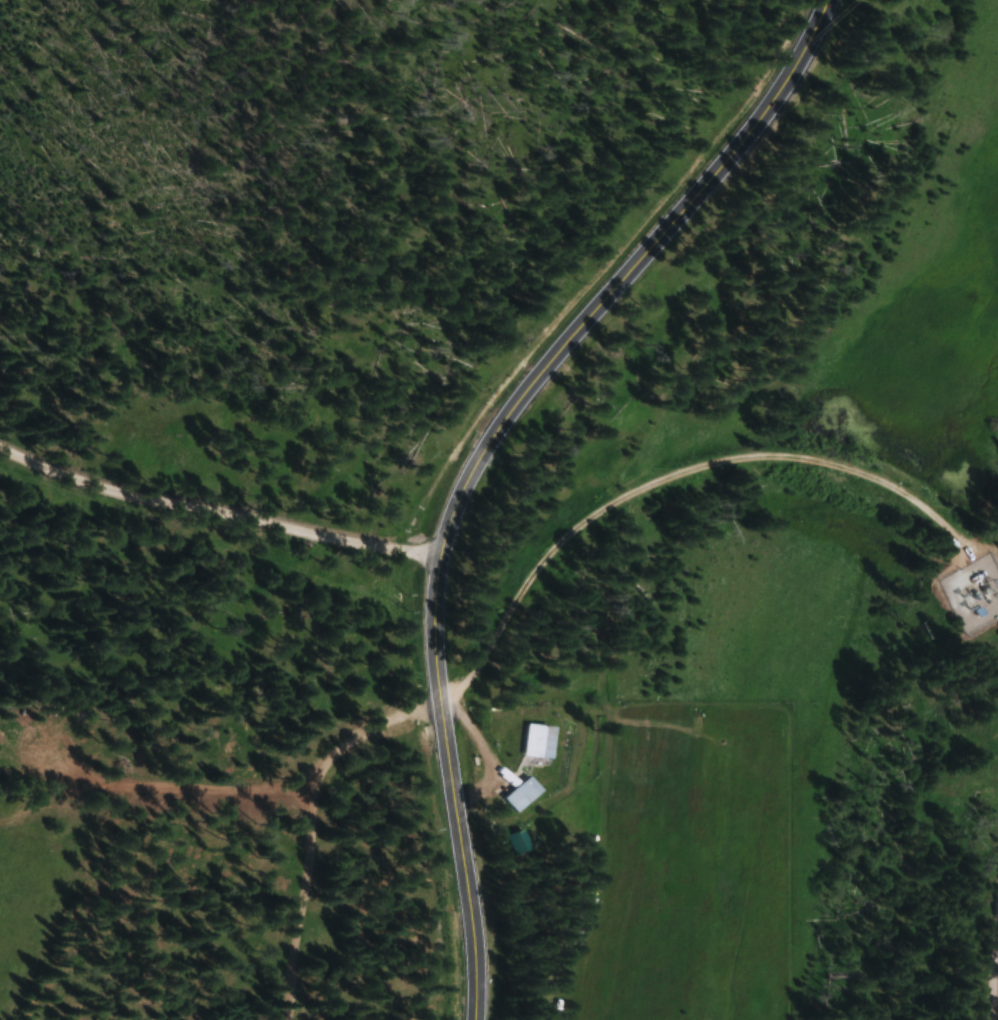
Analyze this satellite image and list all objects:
road: (732, 138)
road: (474, 466)
road: (662, 482)
road: (215, 507)
power substation: (973, 592)
road: (369, 726)
building: (542, 740)
building: (525, 794)
road: (454, 866)
road: (301, 898)
road: (996, 957)

